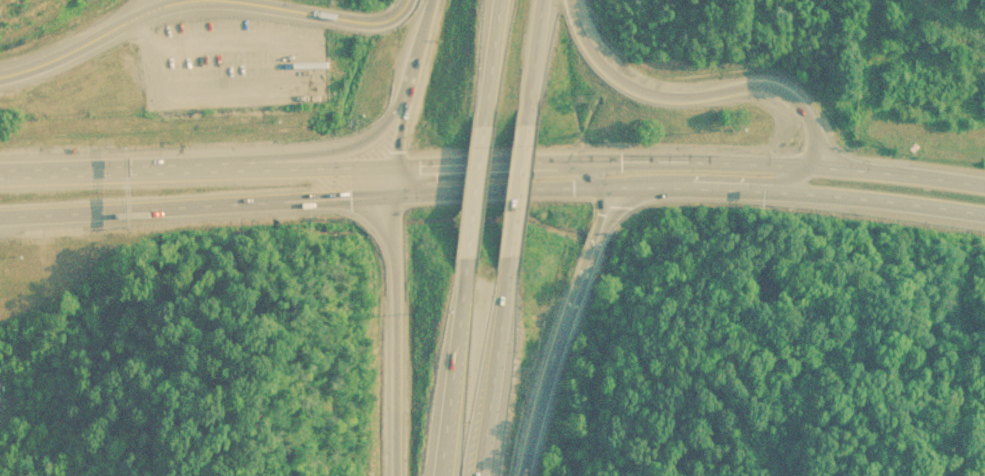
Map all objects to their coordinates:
road: (299, 12)
road: (77, 44)
road: (489, 57)
road: (529, 57)
road: (414, 82)
road: (716, 91)
road: (341, 148)
traffic signals: (594, 160)
road: (494, 161)
road: (790, 163)
traffic signals: (396, 165)
road: (305, 168)
road: (107, 169)
road: (607, 171)
road: (515, 186)
traffic signals: (616, 186)
road: (472, 187)
road: (502, 188)
road: (801, 191)
traffic signals: (389, 195)
road: (194, 206)
road: (590, 280)
road: (388, 320)
road: (452, 367)
road: (495, 367)
road: (548, 425)

